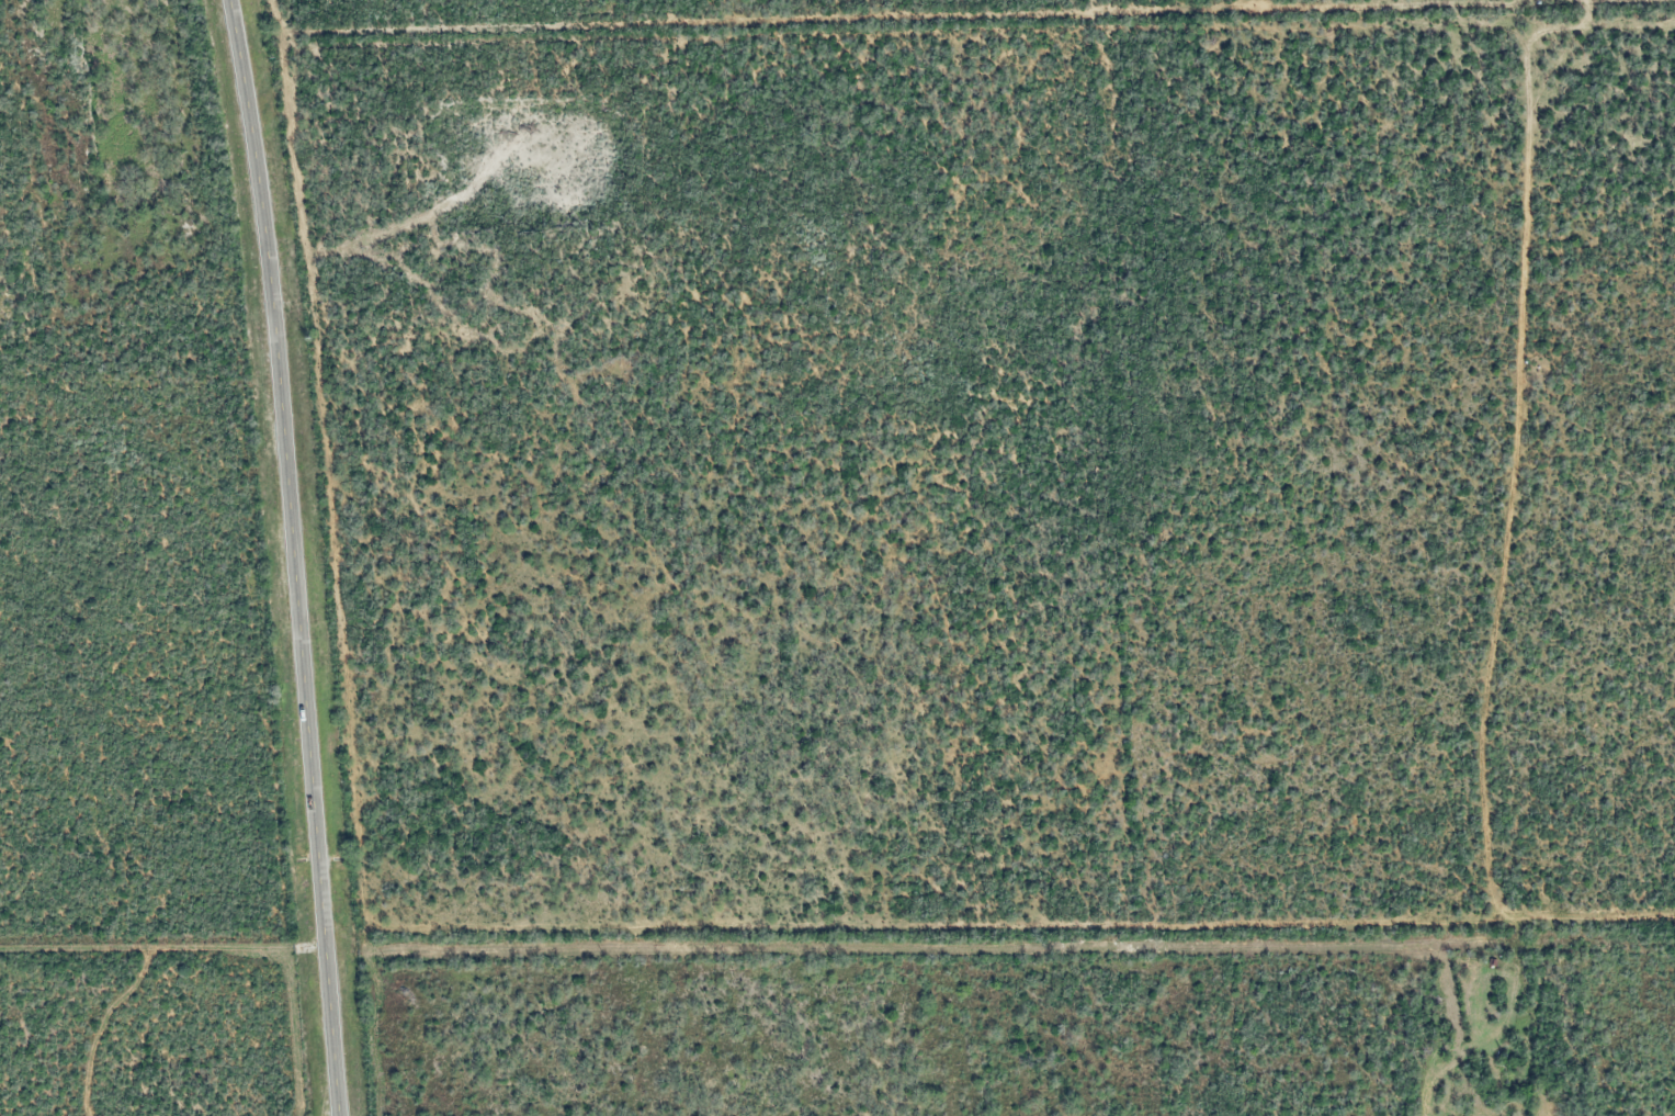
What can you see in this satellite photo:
road: (294, 556)

